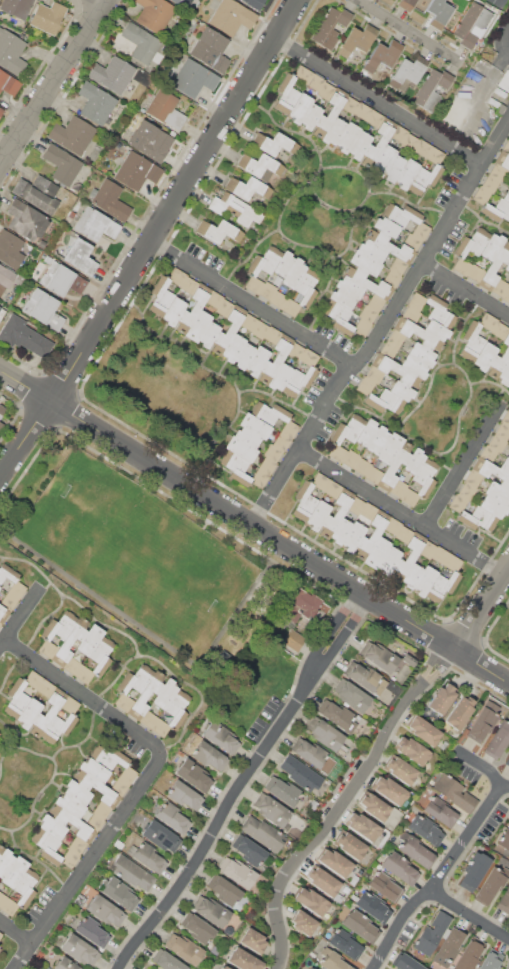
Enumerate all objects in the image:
building: (182, 2)
building: (254, 3)
building: (407, 3)
building: (16, 7)
building: (438, 11)
building: (154, 14)
building: (48, 17)
building: (231, 17)
building: (472, 23)
building: (330, 27)
road: (402, 28)
building: (357, 40)
building: (142, 45)
building: (211, 49)
building: (11, 52)
road: (507, 54)
building: (383, 55)
building: (408, 70)
building: (113, 74)
building: (302, 74)
building: (193, 79)
building: (315, 82)
building: (8, 83)
road: (55, 84)
building: (431, 89)
building: (326, 90)
building: (500, 90)
building: (286, 94)
building: (96, 103)
road: (380, 104)
building: (349, 105)
building: (299, 107)
building: (165, 109)
building: (362, 110)
building: (1, 111)
building: (329, 112)
building: (310, 116)
building: (374, 118)
building: (332, 131)
building: (399, 133)
building: (72, 134)
building: (347, 137)
building: (379, 139)
building: (150, 141)
building: (409, 141)
building: (275, 144)
building: (359, 144)
building: (422, 147)
building: (506, 147)
building: (436, 154)
building: (502, 159)
building: (382, 160)
building: (62, 164)
building: (259, 166)
building: (393, 168)
building: (137, 171)
building: (498, 171)
building: (406, 173)
building: (424, 178)
building: (490, 183)
building: (248, 188)
building: (37, 192)
building: (481, 195)
building: (506, 195)
building: (110, 200)
building: (235, 210)
building: (496, 210)
building: (401, 215)
building: (25, 219)
building: (96, 224)
building: (386, 227)
building: (420, 230)
building: (218, 231)
road: (153, 241)
building: (411, 241)
building: (473, 242)
building: (41, 243)
building: (390, 245)
building: (492, 246)
building: (10, 249)
building: (371, 250)
building: (80, 256)
building: (47, 259)
building: (264, 261)
building: (365, 262)
building: (283, 263)
building: (397, 265)
building: (462, 266)
building: (494, 266)
building: (507, 266)
building: (475, 272)
building: (293, 273)
building: (177, 276)
building: (6, 277)
building: (61, 279)
building: (391, 279)
building: (19, 280)
building: (367, 282)
building: (188, 285)
building: (254, 285)
building: (306, 286)
building: (500, 286)
building: (349, 287)
building: (268, 290)
road: (467, 290)
building: (161, 295)
building: (506, 295)
building: (342, 298)
building: (214, 299)
building: (278, 299)
building: (416, 301)
building: (375, 302)
road: (255, 305)
building: (193, 307)
building: (291, 307)
building: (224, 308)
building: (43, 309)
building: (1, 311)
building: (173, 311)
building: (440, 312)
building: (368, 313)
building: (410, 315)
building: (339, 317)
building: (248, 321)
building: (488, 321)
building: (199, 323)
road: (385, 326)
building: (362, 327)
building: (228, 329)
building: (259, 329)
building: (436, 330)
building: (500, 330)
building: (209, 333)
building: (418, 334)
building: (272, 335)
building: (24, 336)
building: (395, 338)
building: (472, 341)
building: (233, 346)
building: (388, 350)
building: (296, 351)
building: (421, 353)
building: (244, 354)
building: (309, 357)
building: (484, 357)
building: (276, 358)
building: (257, 360)
building: (498, 361)
building: (414, 366)
building: (397, 371)
building: (374, 374)
building: (504, 374)
building: (280, 376)
road: (25, 381)
building: (299, 381)
building: (508, 383)
building: (365, 385)
building: (401, 391)
building: (385, 402)
building: (2, 410)
building: (269, 413)
building: (506, 418)
building: (1, 426)
building: (255, 426)
building: (289, 429)
building: (348, 430)
building: (502, 431)
building: (366, 432)
building: (247, 437)
building: (377, 441)
building: (281, 442)
building: (497, 443)
building: (389, 448)
building: (240, 449)
building: (272, 452)
building: (337, 453)
building: (488, 454)
building: (351, 458)
building: (413, 461)
building: (267, 465)
building: (504, 465)
building: (362, 466)
building: (394, 466)
building: (236, 467)
building: (491, 472)
road: (2, 473)
building: (373, 475)
road: (460, 476)
building: (259, 477)
building: (425, 477)
building: (473, 478)
building: (320, 482)
building: (398, 487)
building: (332, 490)
building: (467, 490)
building: (497, 494)
building: (409, 497)
building: (304, 501)
building: (458, 502)
building: (356, 505)
building: (492, 507)
building: (368, 511)
building: (336, 513)
road: (404, 513)
building: (317, 514)
building: (476, 519)
building: (392, 526)
building: (341, 531)
building: (374, 531)
building: (403, 534)
building: (354, 536)
road: (279, 539)
building: (427, 549)
building: (377, 552)
building: (439, 555)
building: (408, 557)
building: (389, 559)
building: (452, 562)
building: (8, 573)
building: (412, 575)
building: (424, 580)
building: (442, 585)
building: (16, 589)
building: (8, 601)
building: (300, 604)
road: (483, 612)
building: (3, 613)
road: (20, 621)
building: (0, 622)
building: (60, 626)
building: (508, 636)
building: (89, 639)
building: (293, 639)
building: (70, 641)
building: (47, 648)
building: (101, 654)
building: (381, 657)
building: (409, 660)
building: (72, 665)
building: (84, 674)
building: (366, 678)
building: (33, 679)
building: (136, 679)
building: (46, 687)
building: (147, 693)
building: (165, 693)
building: (351, 695)
road: (87, 697)
building: (17, 698)
building: (442, 698)
building: (124, 702)
building: (69, 704)
building: (177, 708)
building: (47, 711)
building: (460, 712)
building: (28, 713)
building: (338, 716)
building: (148, 719)
building: (483, 721)
building: (58, 727)
building: (160, 727)
building: (423, 730)
building: (324, 733)
building: (0, 735)
building: (221, 737)
building: (498, 740)
building: (412, 750)
building: (311, 753)
building: (209, 756)
building: (109, 757)
building: (507, 761)
road: (487, 768)
building: (94, 770)
building: (400, 770)
building: (300, 773)
building: (128, 775)
building: (194, 775)
road: (243, 781)
building: (119, 787)
building: (96, 788)
building: (389, 789)
building: (285, 791)
building: (76, 792)
building: (455, 792)
building: (184, 795)
road: (346, 803)
building: (313, 804)
building: (70, 805)
building: (374, 807)
building: (101, 810)
building: (272, 811)
building: (440, 811)
building: (172, 816)
building: (95, 821)
building: (71, 822)
building: (52, 826)
building: (363, 826)
building: (425, 829)
building: (263, 832)
building: (161, 836)
building: (505, 841)
building: (350, 844)
building: (46, 845)
building: (2, 849)
building: (416, 851)
building: (250, 852)
building: (148, 857)
building: (6, 860)
road: (91, 861)
building: (335, 862)
building: (399, 867)
building: (15, 871)
building: (239, 872)
building: (475, 872)
building: (132, 873)
building: (353, 880)
road: (441, 880)
building: (323, 881)
building: (385, 885)
building: (489, 885)
building: (26, 887)
building: (227, 892)
building: (119, 893)
building: (2, 897)
building: (338, 897)
building: (503, 900)
building: (311, 901)
building: (8, 906)
building: (373, 906)
building: (105, 911)
building: (213, 912)
road: (471, 914)
building: (303, 923)
building: (360, 926)
road: (17, 930)
building: (199, 930)
building: (92, 932)
building: (432, 933)
building: (1, 935)
building: (253, 940)
building: (345, 943)
building: (448, 947)
building: (0, 949)
building: (79, 949)
building: (185, 949)
building: (469, 954)
building: (166, 960)
building: (243, 960)
building: (490, 960)
building: (333, 962)
building: (407, 963)
building: (66, 964)
building: (507, 965)
building: (225, 967)
building: (144, 968)
building: (310, 968)

